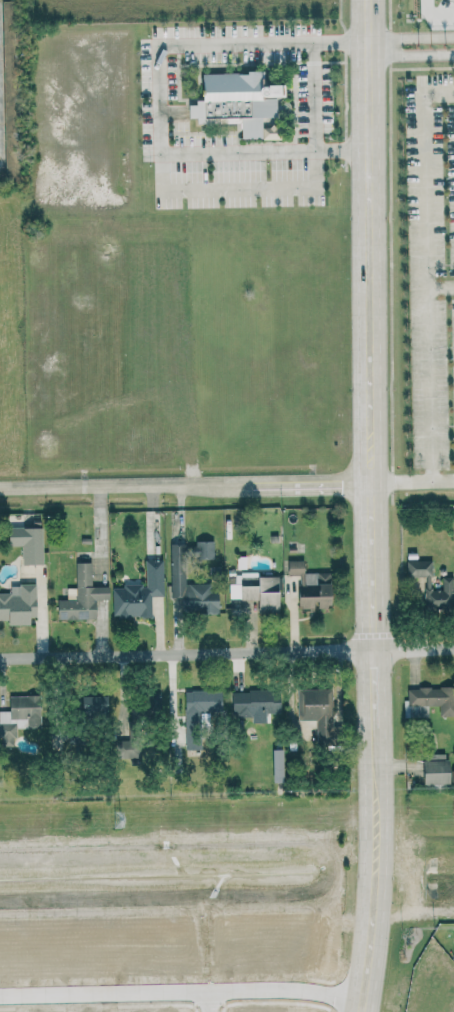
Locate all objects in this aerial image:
road: (431, 17)
road: (410, 32)
road: (410, 50)
building: (9, 88)
road: (315, 96)
road: (158, 98)
road: (420, 217)
road: (438, 282)
road: (372, 289)
road: (426, 426)
road: (413, 475)
road: (186, 487)
building: (28, 543)
building: (205, 549)
building: (419, 567)
building: (190, 585)
building: (312, 586)
building: (257, 590)
building: (139, 593)
building: (441, 594)
building: (82, 595)
building: (18, 603)
road: (372, 614)
road: (226, 650)
road: (372, 688)
building: (431, 700)
building: (255, 701)
building: (145, 707)
building: (317, 709)
building: (199, 712)
building: (20, 715)
building: (126, 748)
building: (436, 768)
road: (373, 800)
power tower: (117, 821)
road: (368, 943)
road: (182, 996)
road: (213, 1004)

